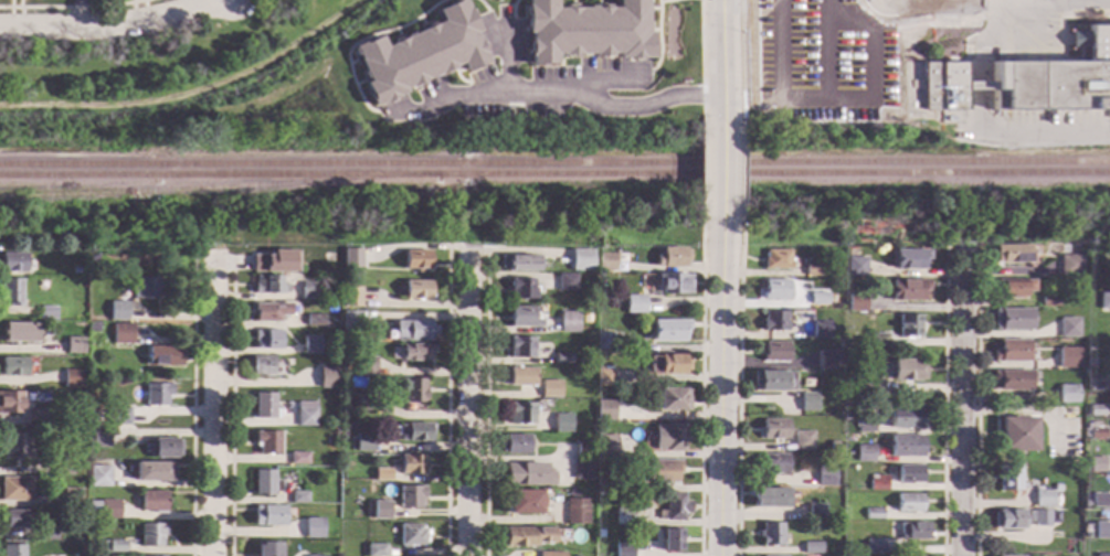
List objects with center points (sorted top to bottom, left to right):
road: (996, 0)
road: (130, 1)
road: (668, 1)
road: (198, 2)
road: (10, 3)
road: (18, 3)
road: (71, 7)
road: (484, 9)
road: (511, 13)
road: (76, 14)
road: (1064, 17)
road: (108, 26)
building: (585, 30)
road: (1030, 39)
road: (491, 40)
road: (357, 41)
road: (658, 42)
road: (994, 42)
road: (818, 49)
building: (416, 53)
building: (793, 54)
road: (718, 57)
road: (700, 58)
road: (740, 58)
road: (506, 60)
parking lot: (813, 61)
road: (604, 81)
building: (1028, 81)
road: (980, 86)
road: (192, 90)
road: (551, 94)
road: (828, 97)
road: (1024, 135)
railway: (554, 163)
road: (739, 172)
road: (700, 173)
road: (718, 173)
railway: (554, 174)
railway: (218, 189)
building: (612, 245)
road: (518, 253)
building: (1011, 254)
building: (92, 257)
building: (670, 257)
building: (908, 258)
building: (414, 259)
building: (775, 259)
building: (353, 260)
building: (579, 260)
building: (605, 260)
building: (13, 263)
building: (274, 263)
building: (517, 263)
building: (328, 264)
building: (1068, 265)
building: (855, 266)
building: (74, 269)
building: (812, 269)
building: (598, 277)
building: (564, 281)
building: (673, 282)
building: (267, 285)
building: (144, 287)
building: (1011, 287)
building: (520, 288)
building: (415, 289)
building: (774, 289)
building: (907, 289)
building: (11, 291)
building: (308, 291)
building: (350, 297)
building: (817, 298)
building: (1048, 300)
building: (1104, 300)
building: (855, 301)
building: (633, 304)
building: (117, 310)
building: (269, 311)
building: (46, 312)
building: (521, 317)
building: (869, 318)
building: (583, 319)
building: (1012, 319)
building: (314, 320)
building: (350, 320)
building: (773, 320)
building: (567, 321)
building: (908, 325)
building: (1067, 327)
building: (92, 328)
building: (666, 330)
building: (820, 330)
building: (412, 331)
building: (19, 333)
building: (121, 334)
building: (266, 339)
building: (877, 339)
building: (602, 341)
building: (310, 344)
building: (73, 345)
building: (519, 346)
building: (774, 351)
building: (1011, 351)
building: (414, 352)
building: (162, 356)
building: (561, 357)
building: (1067, 357)
building: (580, 360)
building: (827, 360)
building: (1089, 362)
building: (666, 364)
building: (260, 365)
building: (363, 365)
building: (12, 366)
building: (907, 370)
building: (520, 376)
building: (602, 376)
building: (71, 377)
building: (326, 377)
building: (1012, 379)
building: (772, 381)
building: (1091, 381)
building: (343, 388)
building: (549, 388)
building: (413, 389)
road: (738, 391)
building: (867, 391)
road: (700, 392)
road: (718, 393)
building: (157, 394)
building: (1067, 394)
building: (670, 398)
building: (806, 400)
building: (10, 402)
road: (944, 402)
building: (362, 403)
road: (445, 403)
road: (191, 404)
road: (213, 404)
road: (466, 405)
road: (485, 405)
building: (264, 406)
road: (961, 407)
road: (976, 409)
building: (1095, 409)
building: (604, 410)
road: (230, 411)
building: (99, 413)
building: (518, 413)
building: (1068, 413)
building: (118, 415)
building: (34, 417)
building: (92, 417)
building: (305, 417)
building: (906, 417)
building: (1086, 420)
building: (50, 423)
building: (561, 423)
building: (864, 424)
building: (68, 427)
building: (773, 429)
building: (411, 431)
building: (1017, 434)
building: (1096, 434)
building: (99, 437)
building: (667, 437)
building: (802, 440)
building: (267, 441)
building: (361, 441)
building: (511, 445)
building: (604, 445)
building: (14, 446)
building: (906, 446)
building: (161, 448)
building: (582, 450)
building: (865, 453)
building: (298, 458)
building: (62, 463)
building: (773, 463)
building: (411, 464)
building: (1096, 464)
building: (581, 469)
building: (662, 471)
building: (152, 472)
building: (909, 473)
building: (381, 474)
building: (527, 474)
building: (825, 474)
building: (98, 477)
building: (1008, 478)
building: (615, 482)
building: (878, 482)
building: (265, 483)
building: (1057, 488)
building: (15, 489)
building: (298, 496)
building: (409, 496)
building: (71, 498)
building: (769, 498)
building: (1043, 498)
building: (1099, 500)
building: (152, 502)
building: (521, 502)
building: (909, 502)
building: (674, 507)
building: (103, 509)
building: (380, 510)
building: (575, 511)
building: (816, 511)
building: (874, 513)
building: (268, 515)
building: (623, 516)
building: (1039, 517)
building: (1008, 518)
building: (1087, 518)
building: (14, 520)
building: (313, 528)
building: (915, 531)
building: (1101, 531)
building: (47, 534)
building: (151, 534)
building: (770, 534)
building: (410, 535)
building: (524, 536)
building: (670, 541)
building: (113, 546)
building: (874, 546)
building: (811, 547)
building: (267, 548)
building: (374, 549)
building: (623, 549)
building: (11, 550)
building: (550, 554)
building: (582, 554)
building: (309, 555)
building: (1102, 555)

